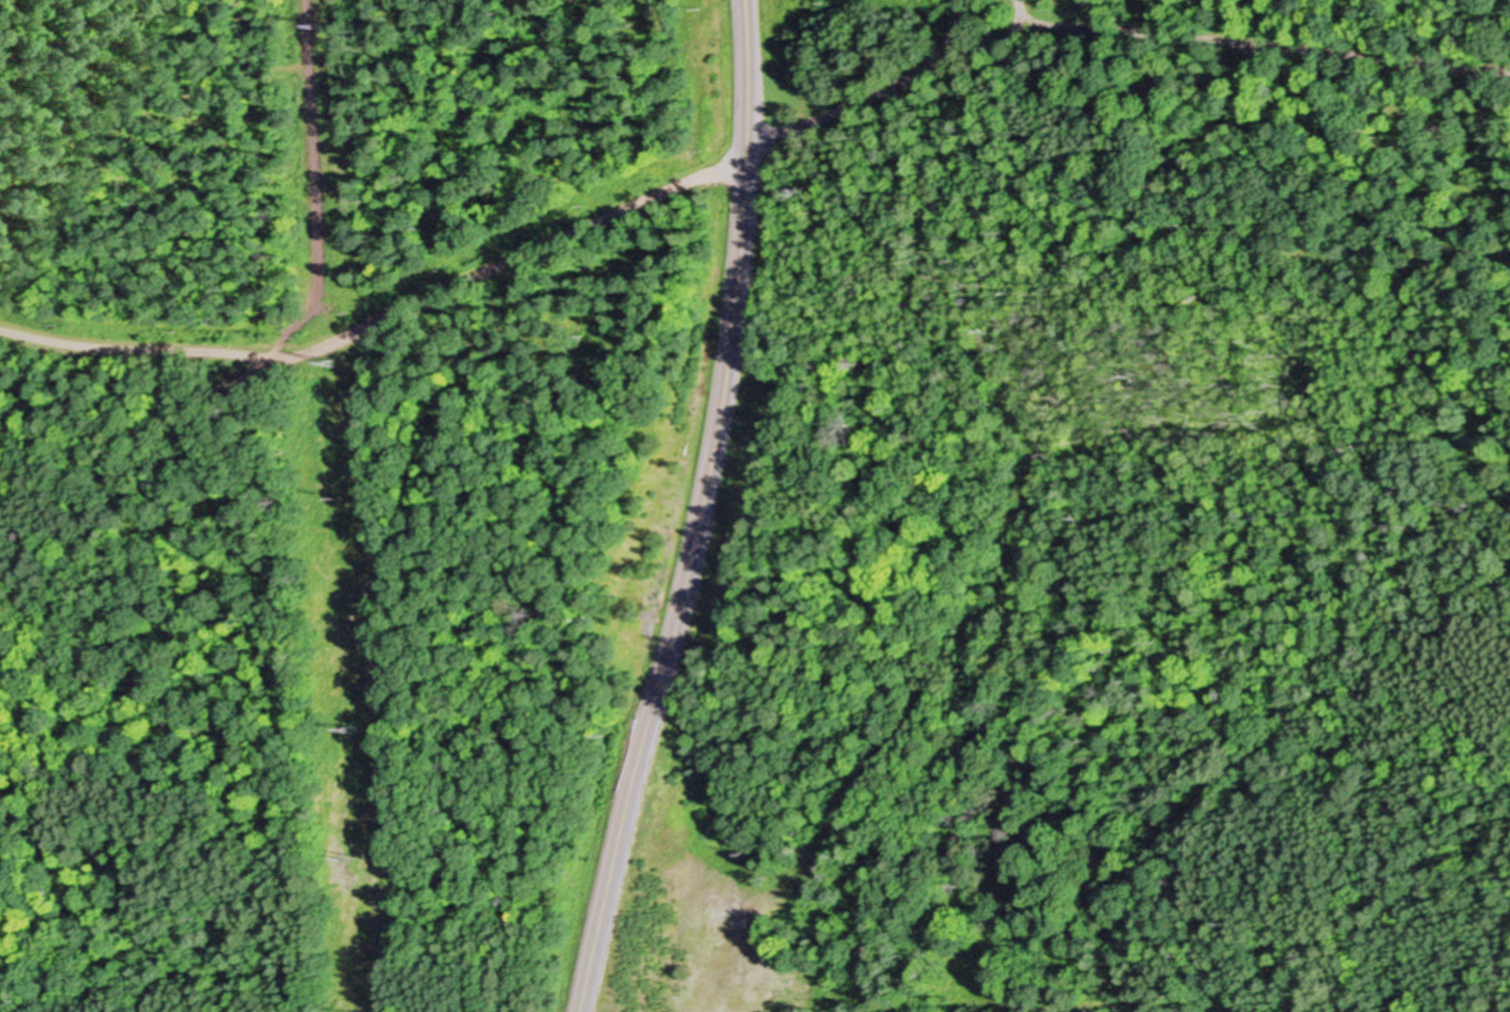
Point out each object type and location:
road: (1019, 14)
road: (1118, 31)
road: (952, 32)
road: (314, 187)
road: (383, 315)
road: (35, 395)
road: (695, 509)
road: (1018, 553)

